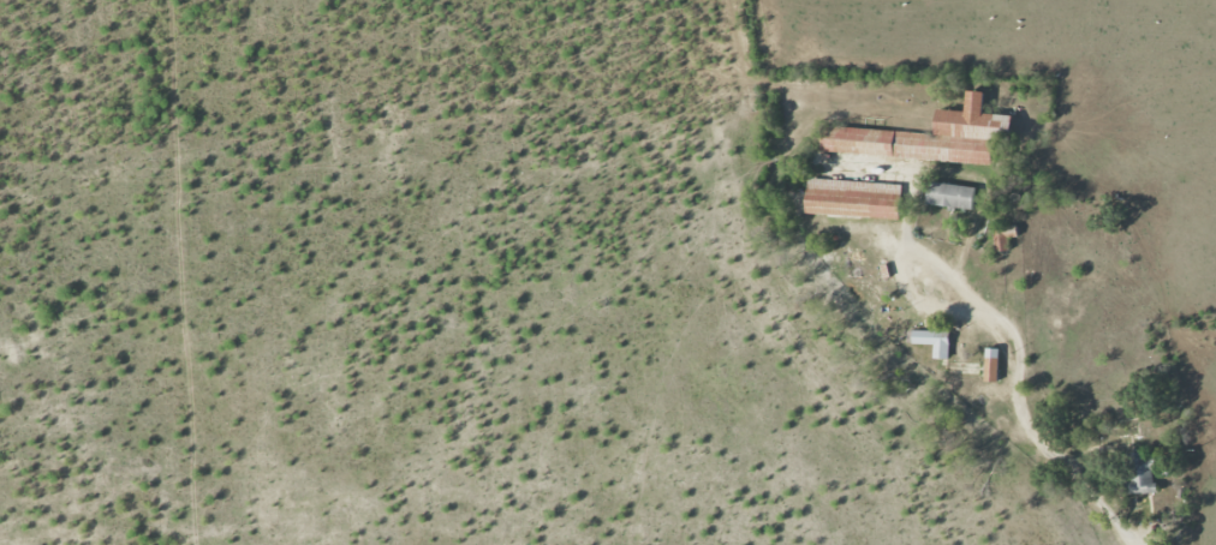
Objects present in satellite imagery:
building: (928, 137)
building: (950, 197)
building: (853, 199)
road: (902, 262)
building: (934, 342)
building: (991, 365)
road: (1042, 439)

